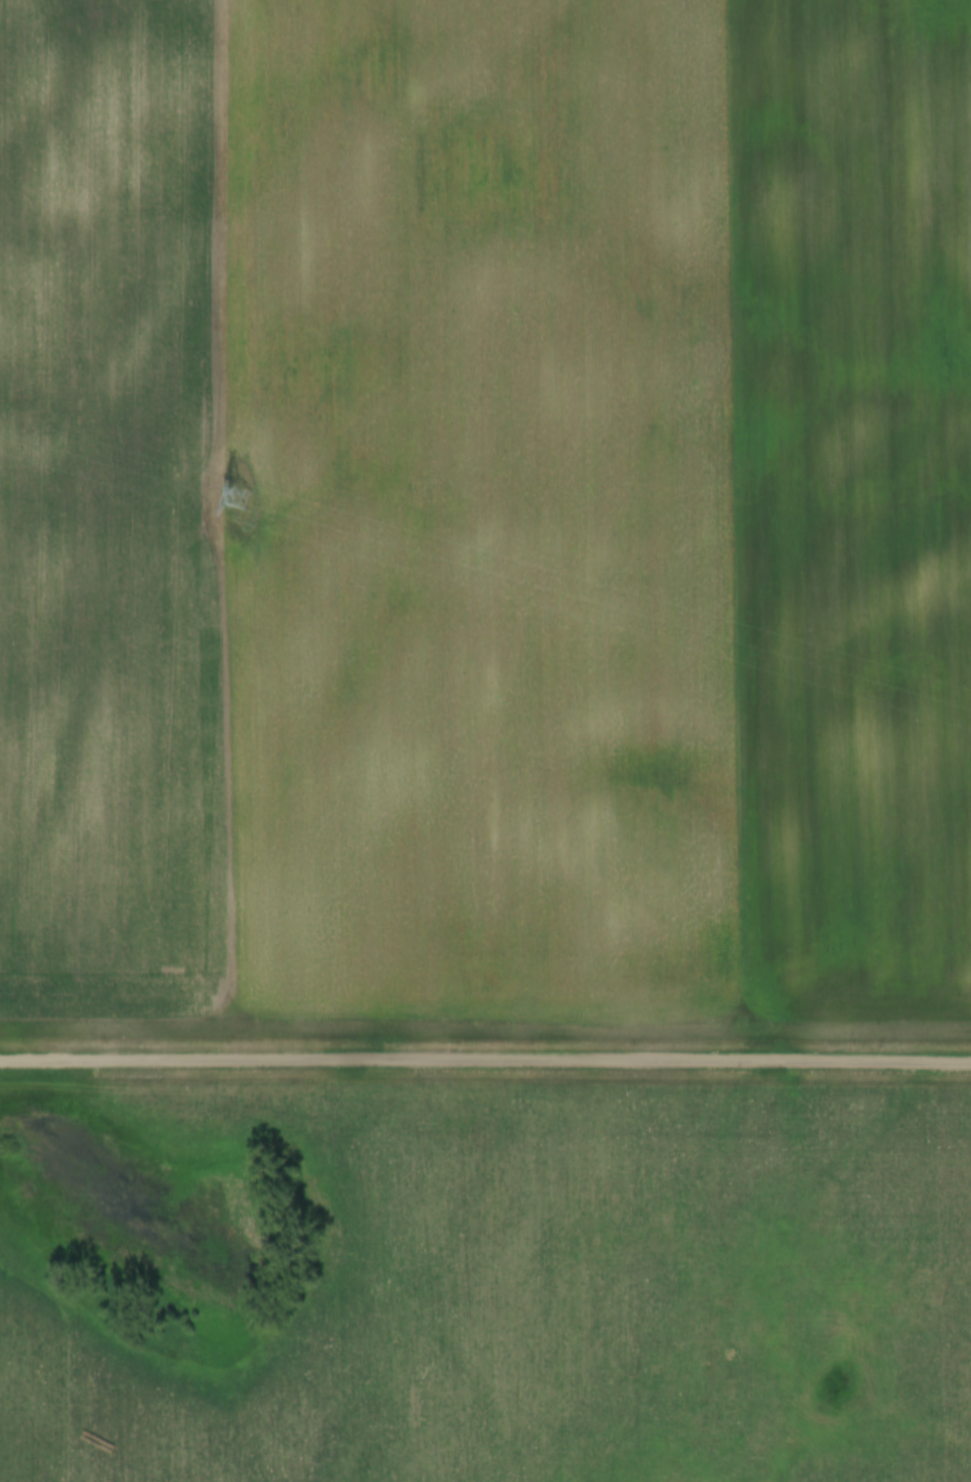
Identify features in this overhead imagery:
power tower: (241, 496)
road: (485, 1059)
building: (251, 1126)

